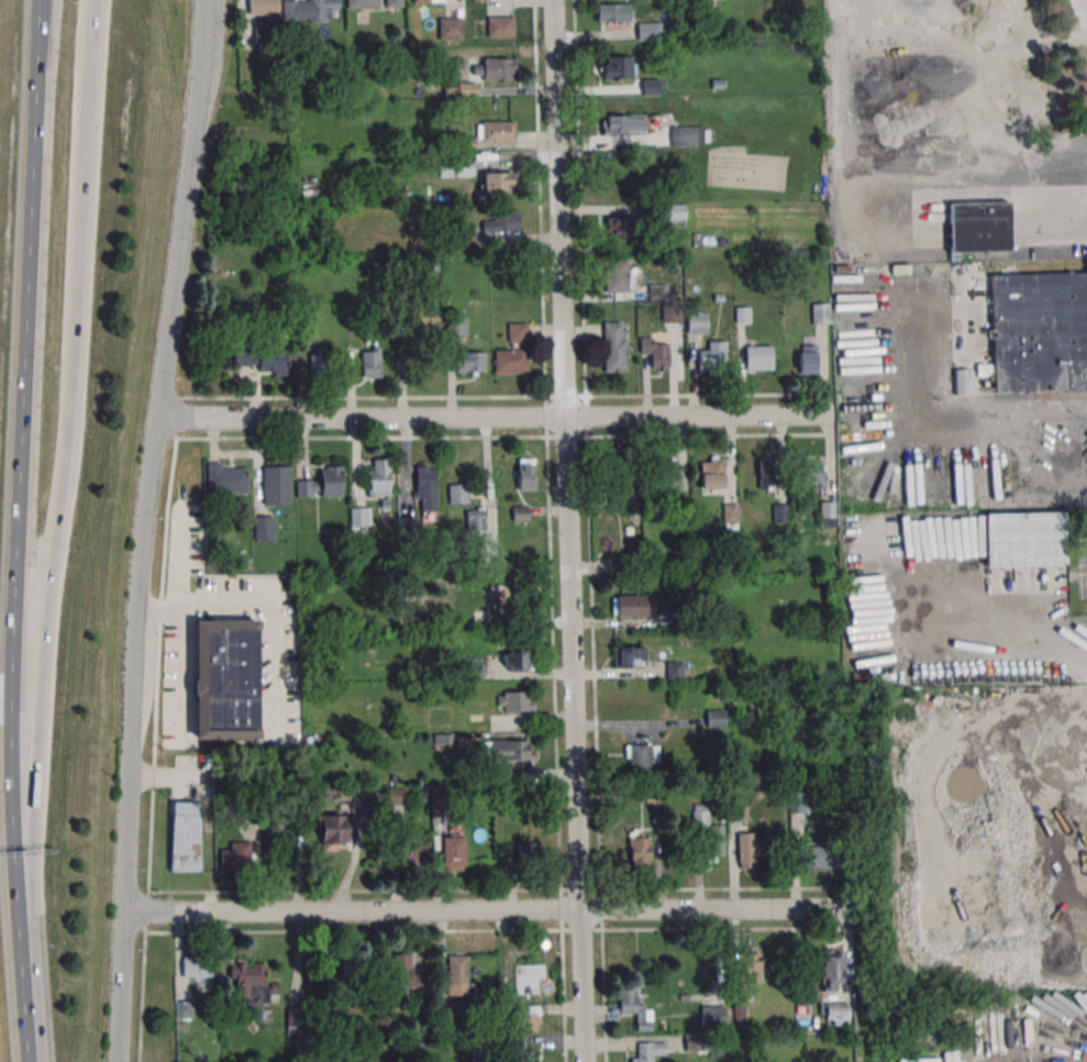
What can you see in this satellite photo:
building: (420, 0)
building: (486, 0)
building: (393, 2)
building: (362, 3)
building: (263, 7)
building: (310, 10)
building: (613, 12)
road: (95, 16)
building: (500, 26)
building: (450, 27)
building: (648, 31)
building: (613, 67)
building: (493, 69)
building: (653, 87)
building: (459, 89)
building: (1029, 96)
building: (623, 124)
building: (497, 131)
building: (688, 136)
building: (986, 140)
building: (463, 166)
building: (495, 181)
road: (953, 193)
building: (672, 211)
building: (506, 221)
road: (1064, 221)
building: (618, 225)
building: (978, 226)
building: (615, 275)
building: (820, 313)
building: (697, 322)
building: (457, 325)
building: (1039, 332)
building: (518, 333)
building: (614, 347)
building: (659, 354)
building: (712, 354)
building: (244, 357)
building: (807, 358)
building: (756, 359)
building: (510, 361)
building: (273, 362)
building: (370, 362)
building: (469, 362)
building: (319, 364)
road: (686, 395)
road: (228, 397)
road: (981, 408)
road: (493, 417)
road: (502, 438)
road: (1071, 464)
building: (810, 471)
building: (620, 472)
building: (669, 472)
building: (713, 472)
building: (767, 473)
building: (525, 475)
building: (225, 478)
building: (330, 480)
building: (379, 480)
building: (276, 485)
building: (425, 488)
building: (625, 493)
building: (458, 494)
building: (827, 511)
building: (358, 516)
building: (730, 516)
building: (476, 519)
road: (19, 522)
building: (408, 523)
building: (264, 528)
road: (141, 529)
road: (589, 530)
road: (569, 531)
road: (56, 538)
building: (1024, 539)
building: (502, 595)
building: (634, 605)
building: (629, 656)
building: (518, 660)
road: (1075, 667)
building: (225, 678)
building: (515, 700)
building: (716, 717)
road: (555, 729)
building: (511, 750)
building: (640, 760)
building: (397, 795)
building: (282, 820)
building: (333, 828)
building: (186, 837)
building: (712, 843)
building: (640, 849)
building: (408, 850)
building: (745, 850)
building: (452, 851)
building: (235, 852)
building: (528, 854)
building: (816, 856)
road: (497, 890)
road: (486, 911)
road: (496, 930)
building: (750, 967)
building: (354, 970)
building: (831, 970)
building: (198, 971)
building: (399, 973)
building: (457, 974)
building: (528, 977)
building: (251, 986)
building: (629, 1000)
building: (184, 1008)
building: (833, 1013)
building: (712, 1017)
building: (448, 1018)
building: (522, 1020)
building: (695, 1043)
road: (1082, 1046)
road: (29, 1053)
building: (523, 1057)
building: (643, 1058)

